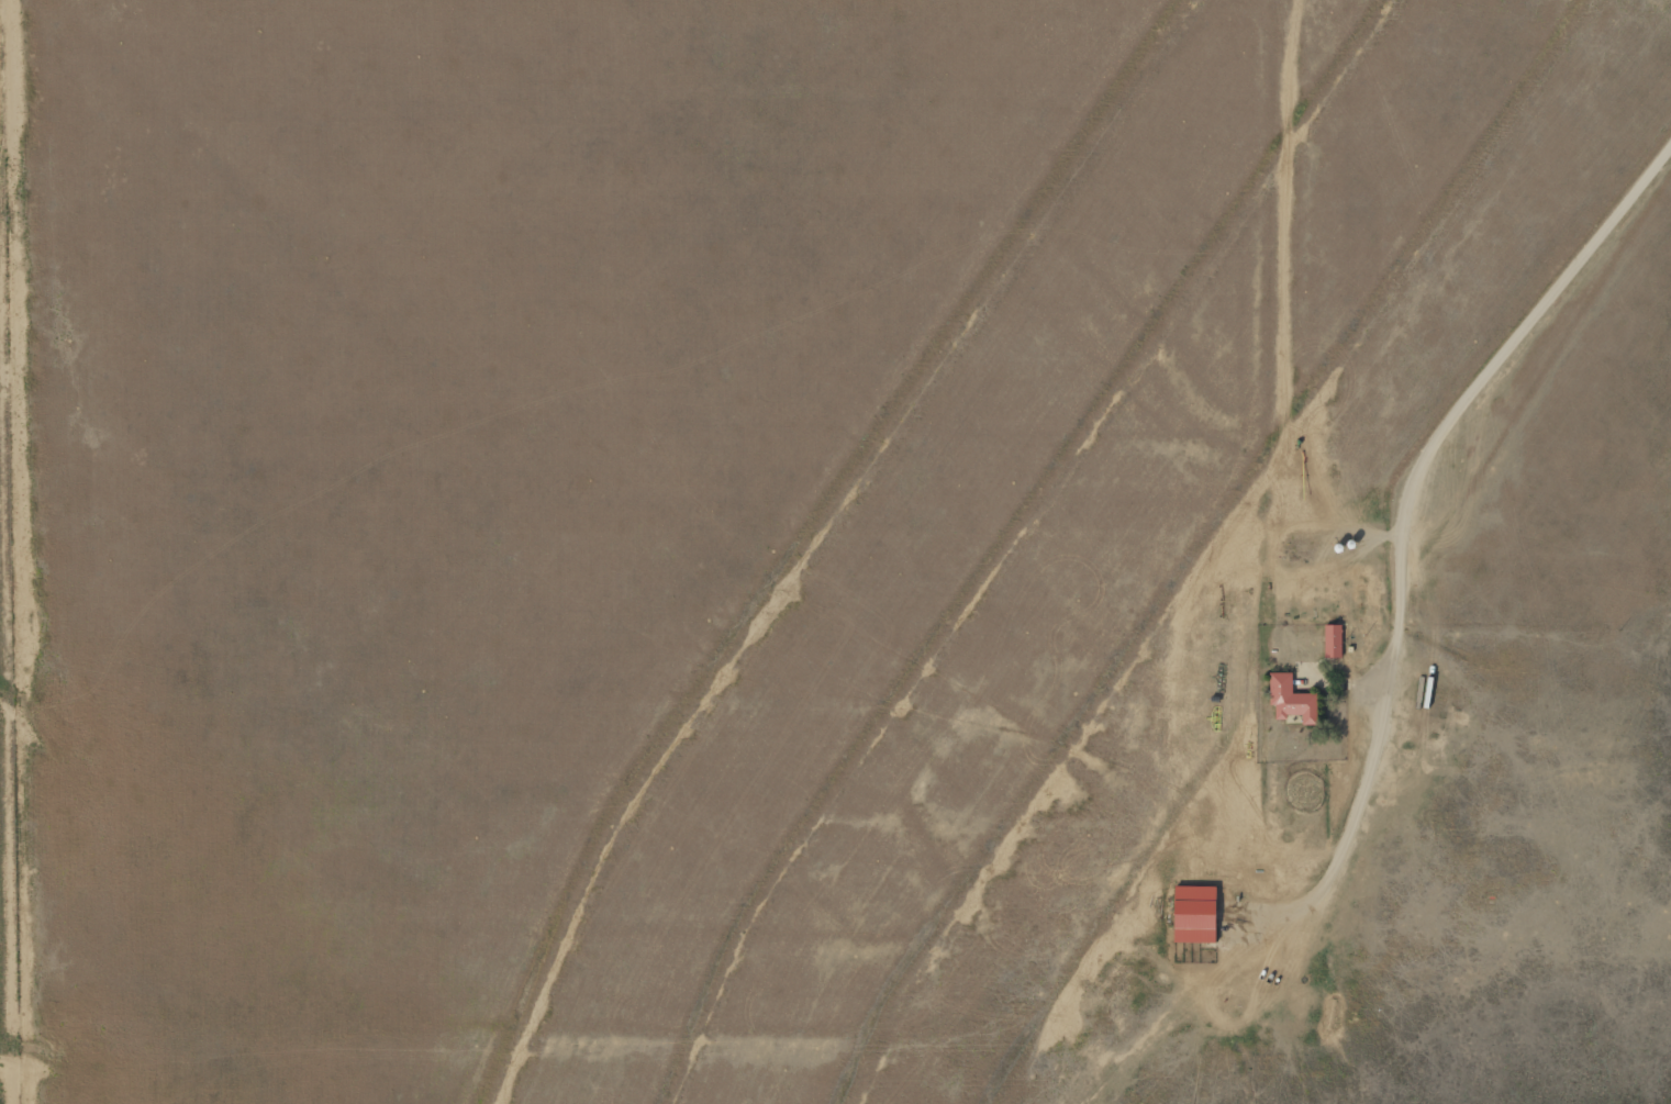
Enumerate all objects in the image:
building: (1445, 479)
building: (1332, 640)
building: (1291, 700)

